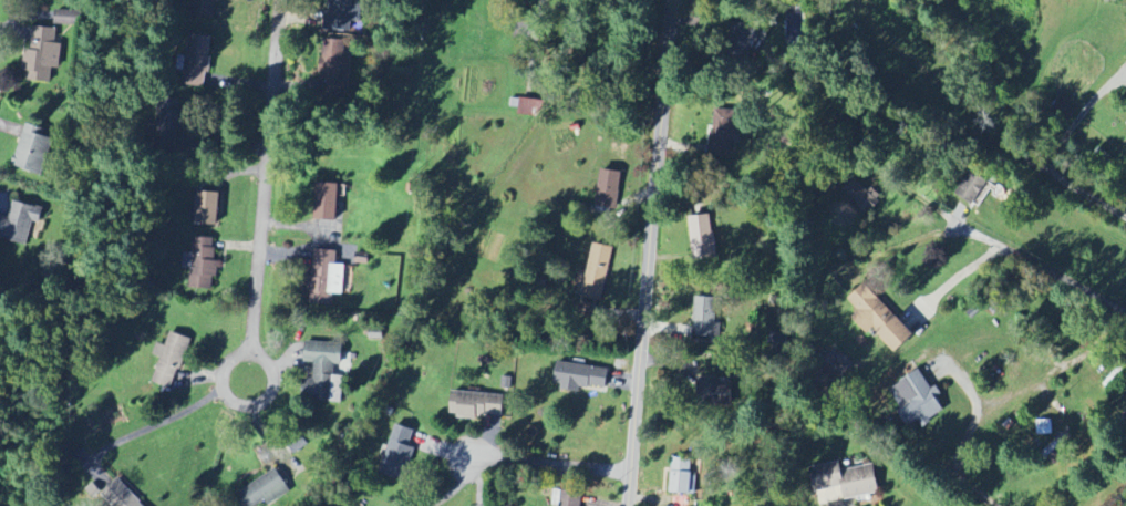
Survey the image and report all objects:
building: (343, 14)
building: (68, 17)
building: (41, 55)
building: (197, 61)
building: (334, 69)
building: (1125, 99)
building: (530, 107)
road: (1079, 114)
road: (981, 120)
building: (724, 136)
building: (32, 151)
building: (609, 188)
building: (974, 189)
road: (249, 193)
building: (327, 202)
building: (207, 213)
building: (19, 224)
building: (702, 237)
road: (996, 246)
road: (648, 252)
building: (326, 273)
building: (595, 273)
building: (203, 275)
building: (706, 318)
building: (879, 319)
building: (169, 359)
building: (321, 369)
building: (579, 376)
building: (711, 390)
building: (916, 400)
building: (476, 405)
road: (154, 424)
building: (1044, 427)
road: (265, 428)
building: (397, 453)
road: (551, 464)
building: (681, 476)
building: (847, 482)
road: (455, 487)
building: (266, 490)
building: (120, 496)
building: (571, 498)

